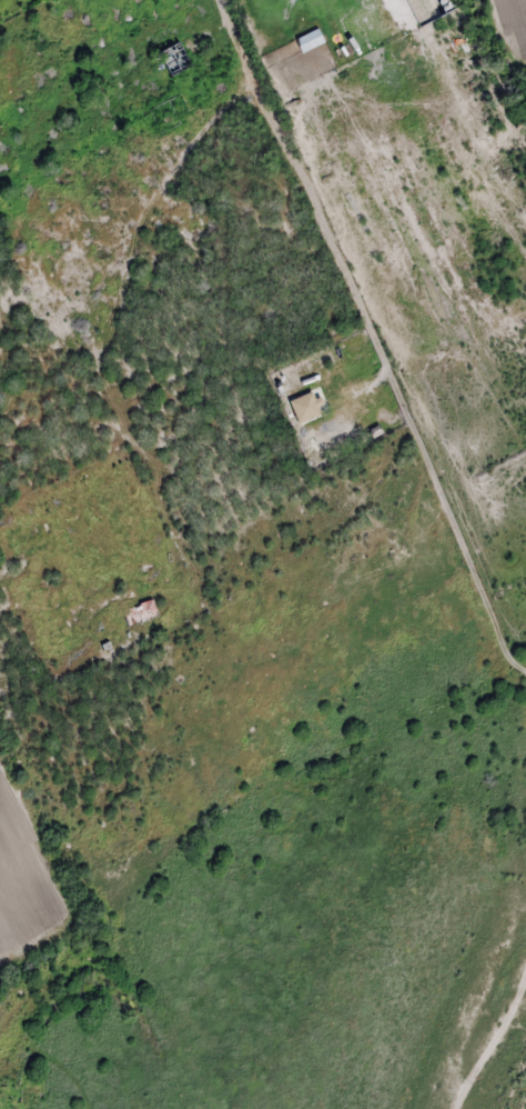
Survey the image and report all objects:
road: (378, 329)
road: (492, 1047)

